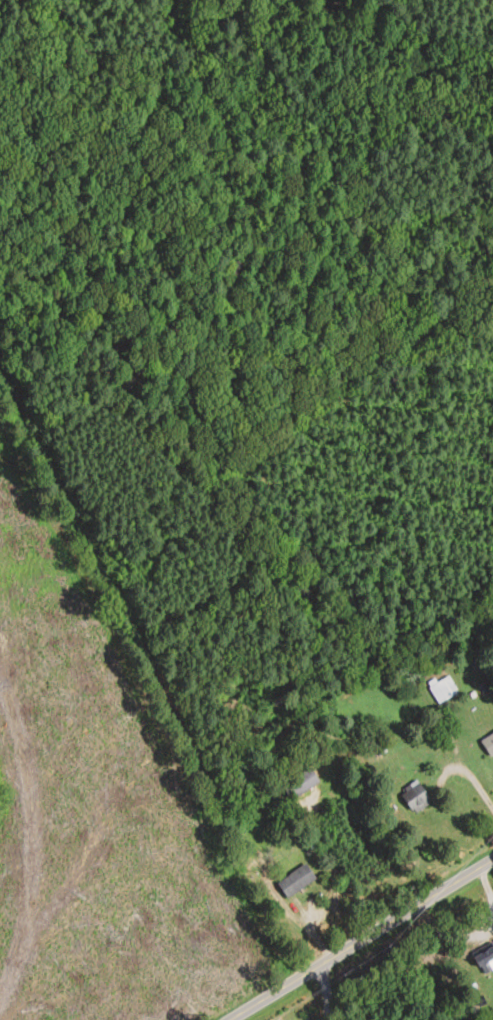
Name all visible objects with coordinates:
building: (443, 689)
road: (173, 695)
building: (488, 745)
road: (470, 774)
building: (300, 784)
building: (414, 798)
building: (295, 880)
road: (363, 940)
building: (485, 957)
road: (327, 993)

